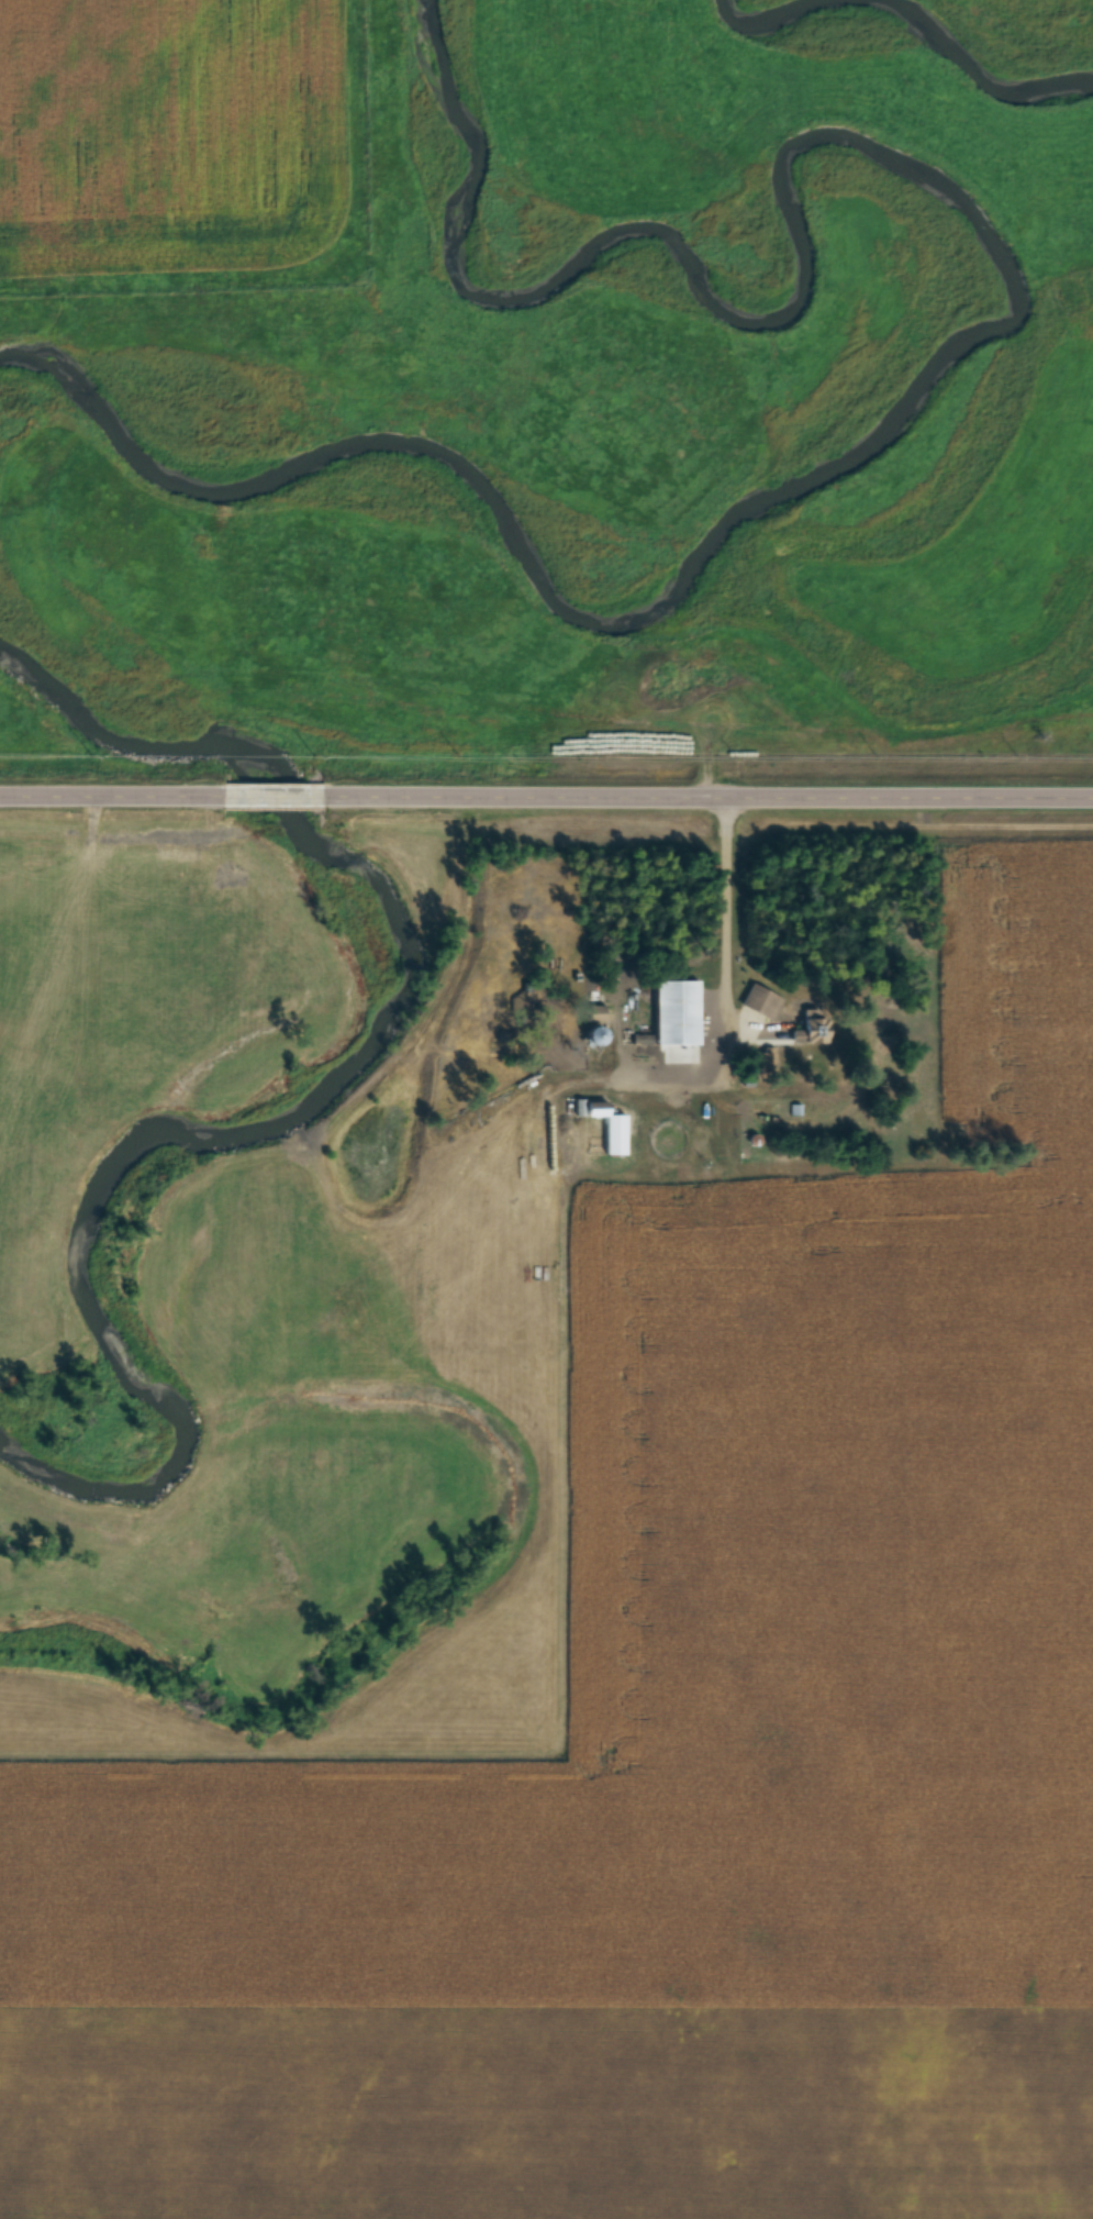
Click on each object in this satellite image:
river: (774, 12)
river: (972, 65)
river: (961, 343)
road: (112, 789)
road: (276, 790)
road: (710, 790)
road: (725, 933)
building: (759, 1001)
building: (679, 1010)
building: (807, 1030)
building: (589, 1035)
building: (765, 1058)
river: (299, 1098)
building: (605, 1127)
building: (659, 1140)
crop: (674, 1761)

